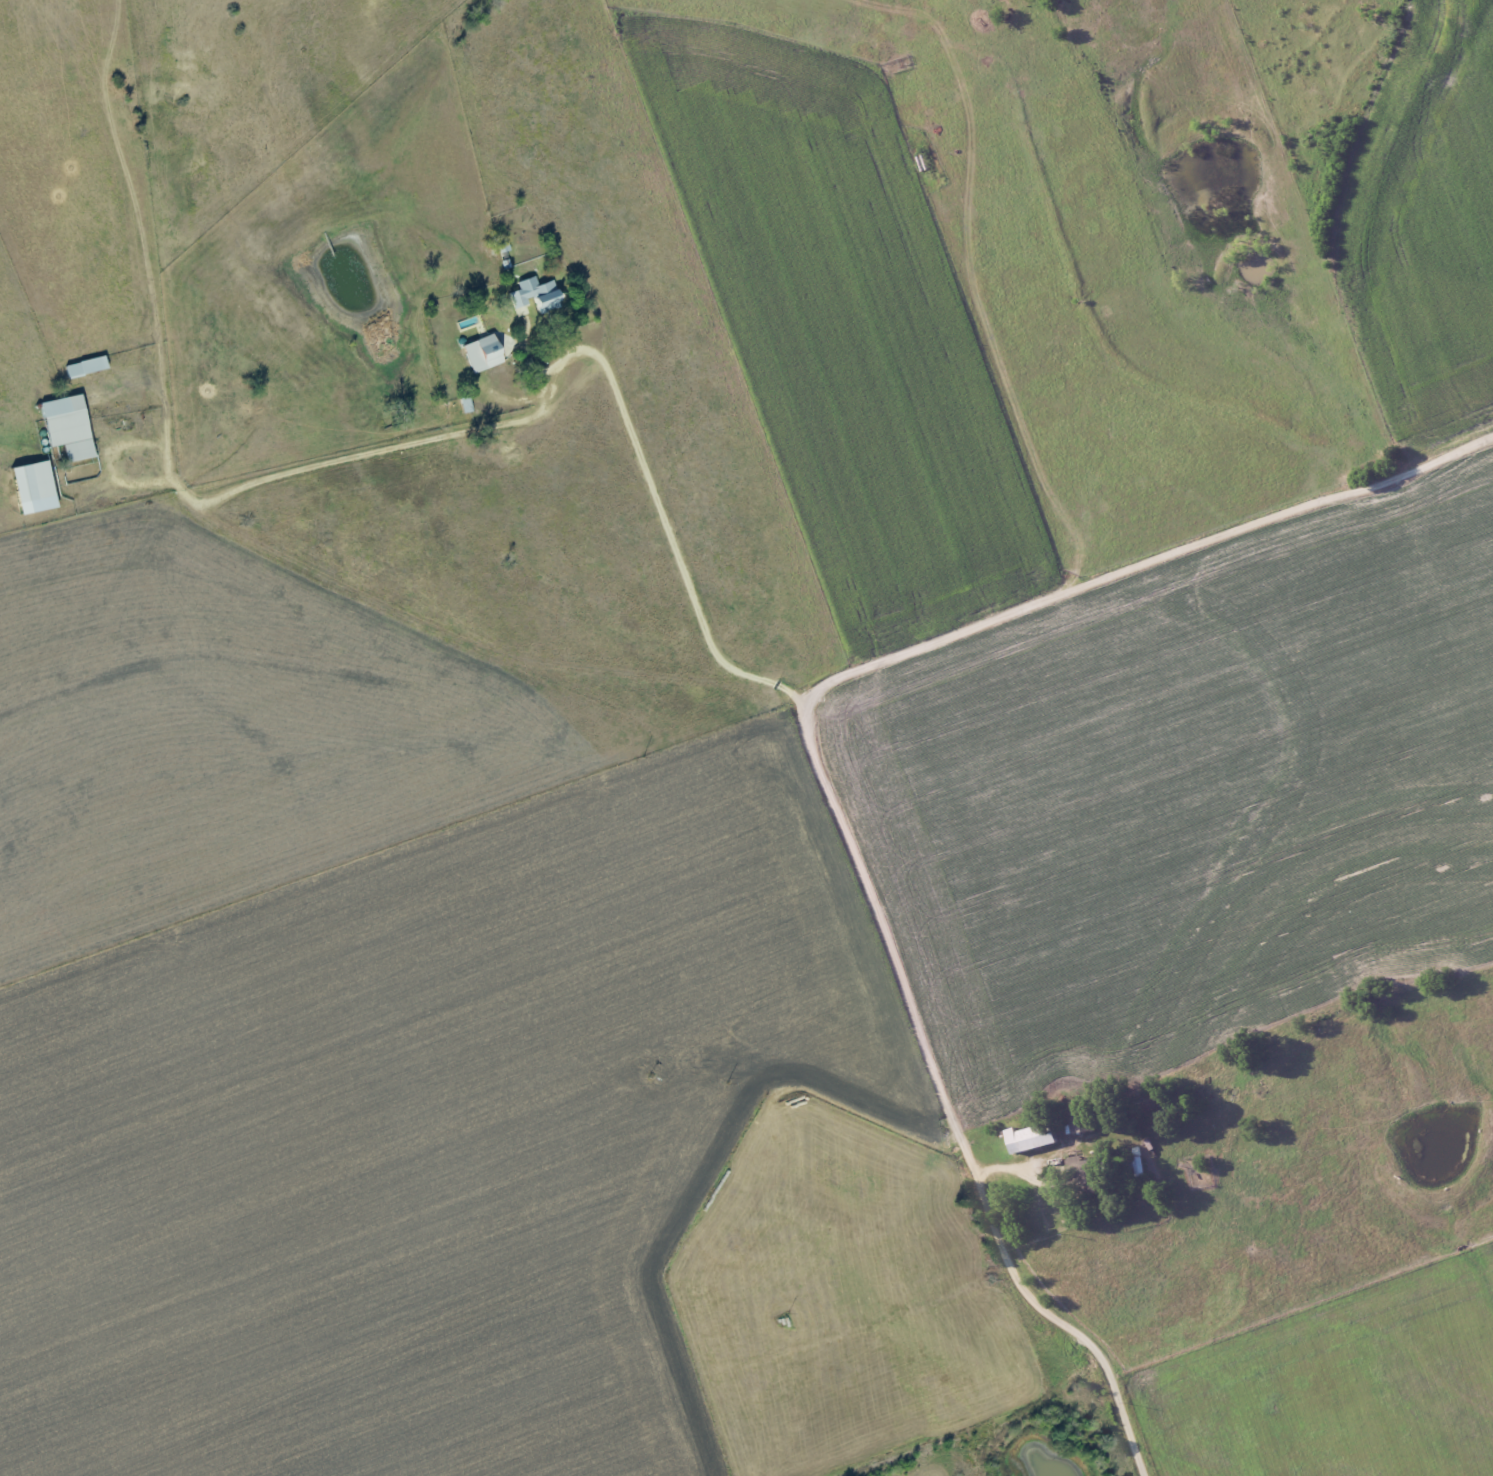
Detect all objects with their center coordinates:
building: (536, 294)
building: (484, 352)
building: (87, 366)
road: (552, 394)
building: (68, 426)
building: (35, 487)
road: (817, 759)
building: (1083, 1119)
building: (1035, 1137)
building: (1090, 1173)

